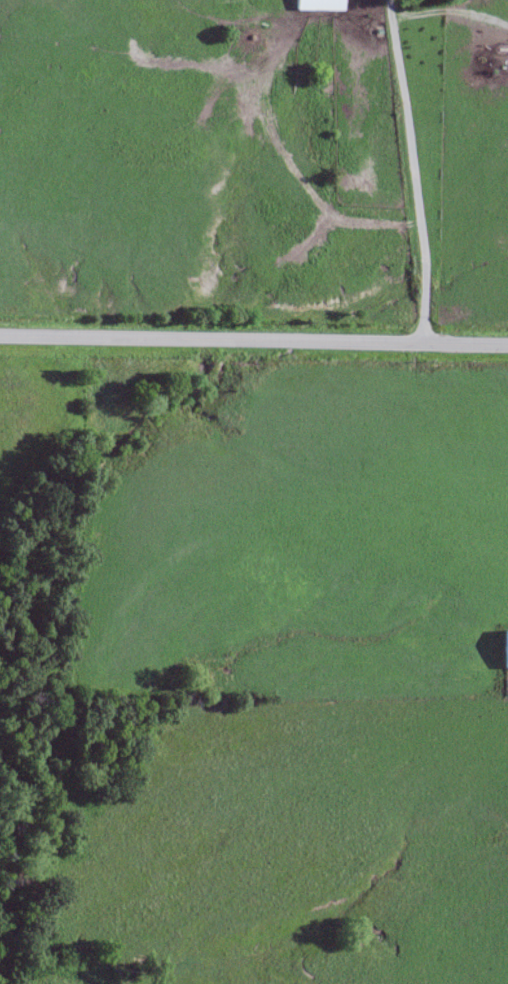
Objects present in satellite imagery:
building: (320, 5)
road: (414, 171)
road: (254, 343)
building: (506, 650)

